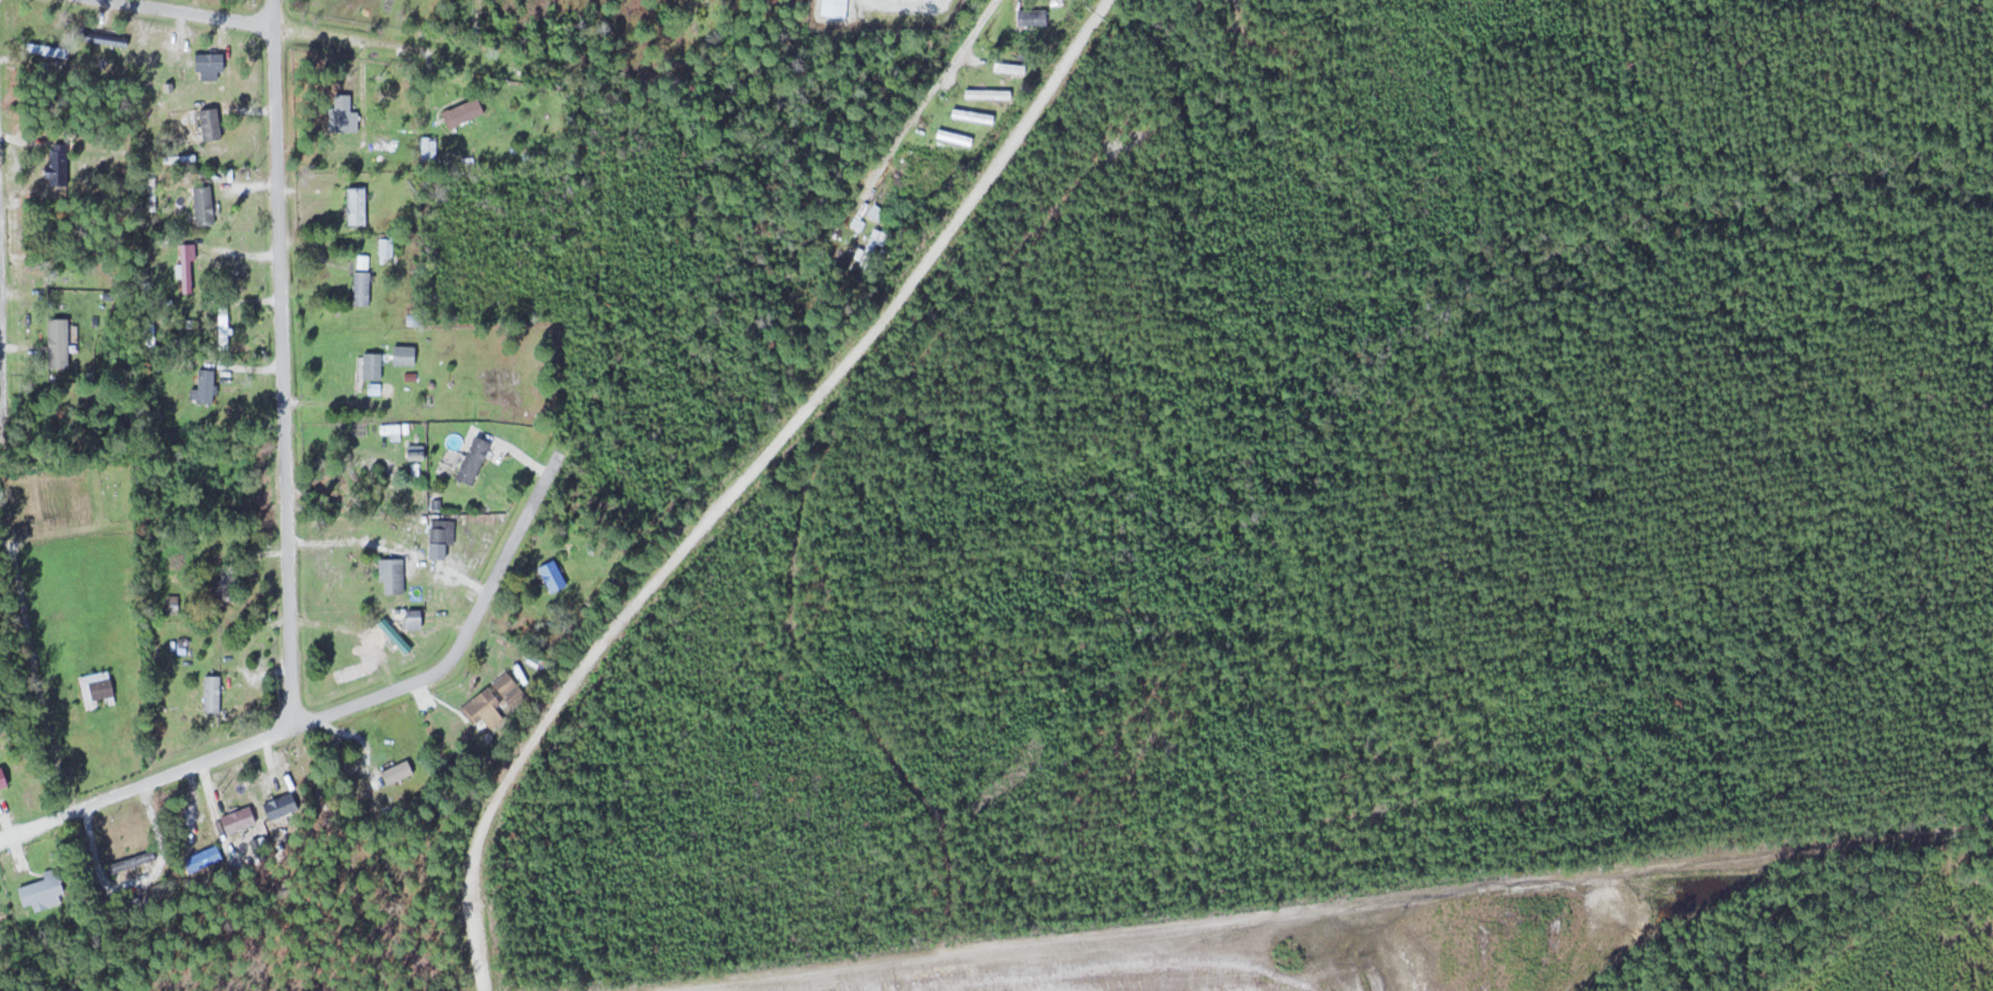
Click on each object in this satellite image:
building: (1028, 17)
road: (343, 34)
building: (56, 53)
building: (144, 55)
building: (211, 61)
road: (930, 89)
building: (344, 111)
building: (466, 111)
building: (213, 123)
building: (950, 137)
building: (430, 146)
building: (60, 163)
building: (206, 204)
building: (359, 204)
building: (868, 241)
building: (387, 248)
building: (187, 267)
building: (364, 288)
building: (224, 325)
building: (406, 355)
road: (279, 361)
building: (374, 365)
building: (208, 385)
building: (418, 452)
building: (476, 459)
building: (223, 484)
building: (444, 531)
building: (394, 575)
building: (555, 575)
building: (230, 578)
building: (175, 603)
building: (416, 619)
building: (396, 636)
building: (512, 688)
building: (99, 689)
building: (213, 693)
building: (483, 705)
road: (334, 707)
building: (399, 772)
building: (283, 805)
building: (241, 819)
building: (205, 858)
building: (133, 861)
building: (45, 890)
building: (0, 921)

